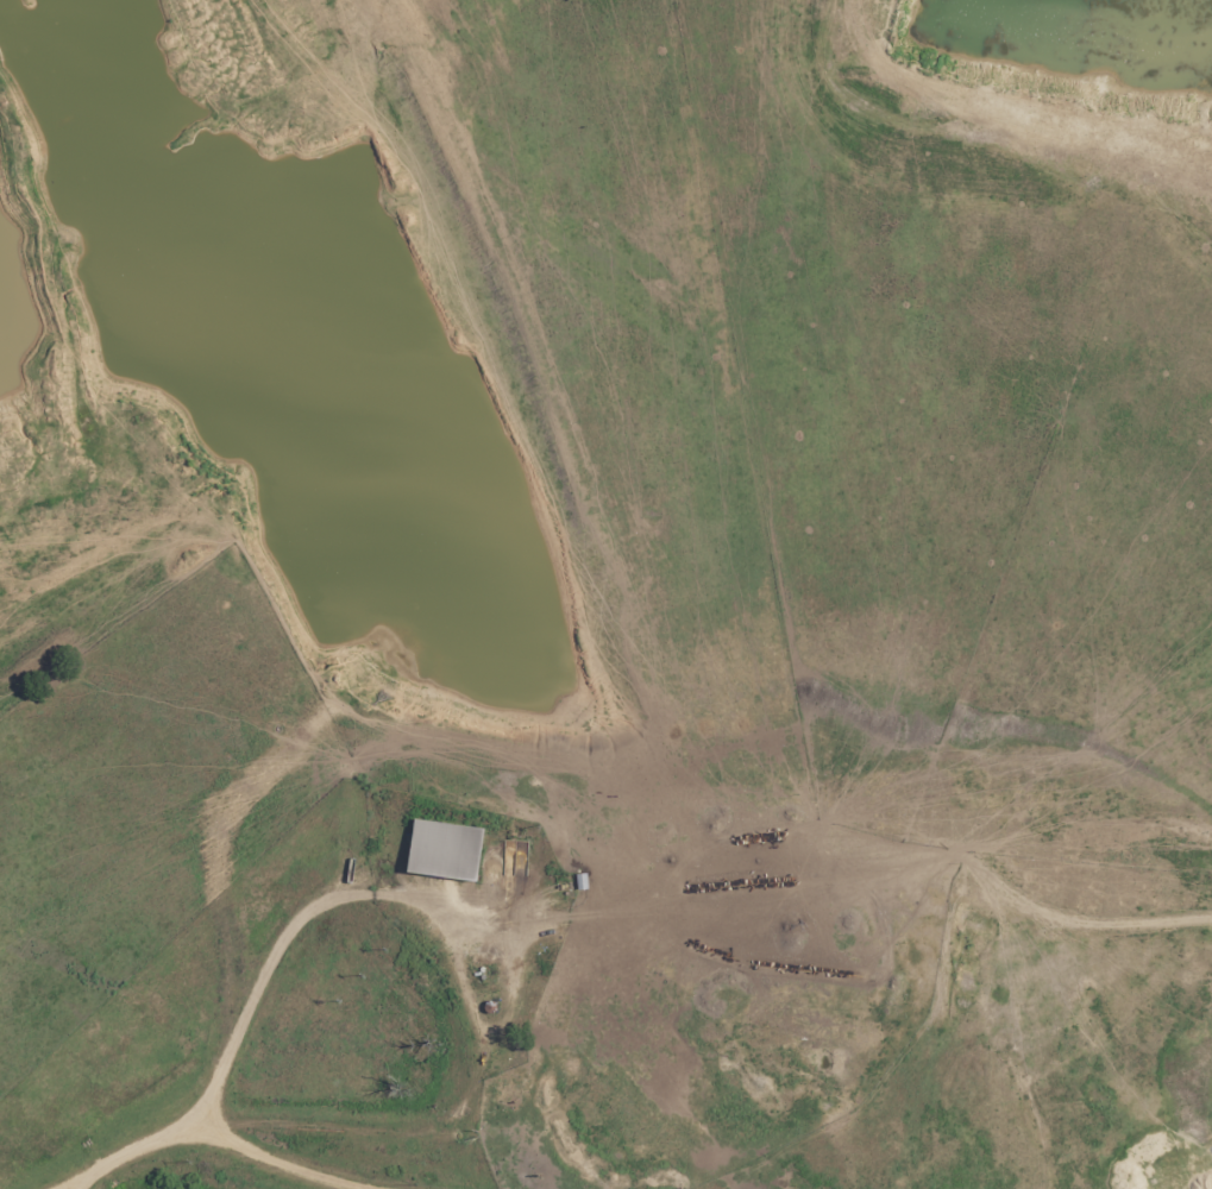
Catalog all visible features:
building: (448, 849)
road: (885, 873)
road: (312, 929)
road: (321, 1118)

